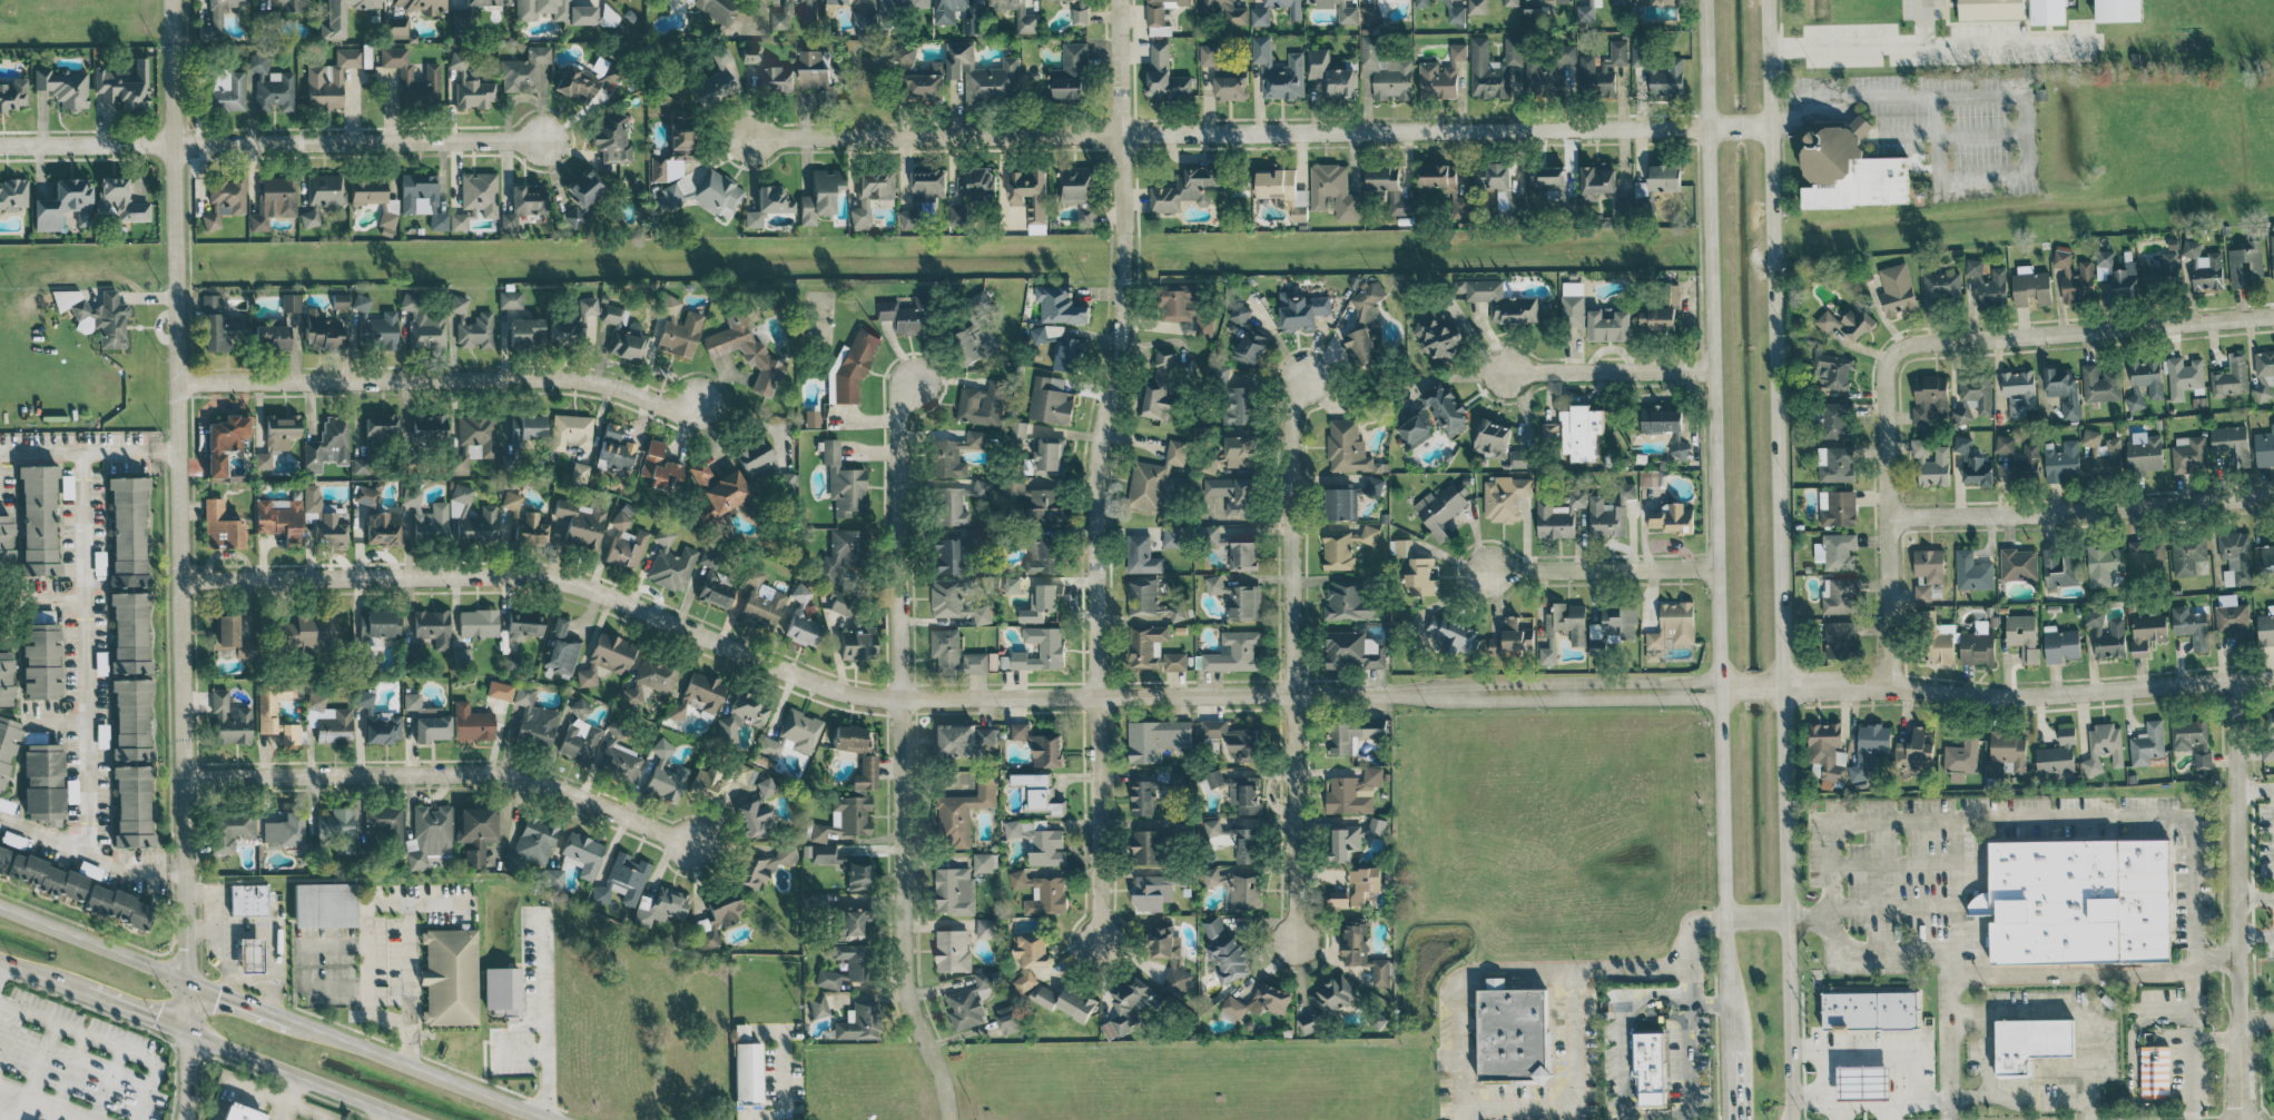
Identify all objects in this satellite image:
building: (838, 1)
building: (1618, 1)
building: (488, 2)
building: (1421, 2)
building: (1510, 2)
building: (1657, 2)
building: (422, 4)
building: (904, 4)
building: (289, 6)
building: (1477, 6)
building: (1540, 8)
building: (1990, 9)
building: (715, 10)
building: (1160, 10)
building: (1224, 10)
building: (1339, 10)
building: (2118, 10)
building: (557, 11)
building: (1079, 11)
building: (1586, 11)
building: (2047, 11)
building: (793, 12)
building: (1454, 12)
building: (1260, 13)
building: (1371, 13)
building: (1021, 16)
building: (341, 17)
building: (944, 17)
building: (215, 20)
building: (863, 22)
road: (1918, 22)
building: (395, 28)
road: (1924, 44)
building: (1208, 54)
building: (903, 57)
building: (1493, 67)
building: (524, 70)
building: (1278, 70)
building: (1547, 70)
building: (1602, 70)
building: (816, 71)
building: (1071, 71)
building: (1385, 71)
building: (767, 72)
building: (434, 73)
building: (1165, 73)
building: (983, 75)
building: (1331, 75)
building: (1441, 75)
building: (331, 79)
building: (716, 79)
building: (575, 82)
building: (927, 82)
building: (270, 83)
building: (470, 85)
building: (124, 86)
building: (63, 87)
building: (1230, 87)
building: (224, 90)
road: (2024, 92)
building: (12, 93)
road: (1260, 131)
road: (1979, 131)
building: (681, 136)
building: (612, 137)
road: (355, 141)
road: (86, 143)
building: (658, 169)
building: (1850, 169)
building: (1547, 176)
building: (1663, 176)
building: (1597, 179)
building: (976, 182)
building: (1498, 182)
building: (1277, 184)
building: (1188, 188)
building: (1389, 188)
building: (1079, 189)
building: (1333, 190)
building: (1451, 190)
building: (703, 192)
building: (12, 194)
building: (820, 195)
building: (870, 195)
building: (322, 196)
building: (581, 196)
building: (1031, 196)
building: (924, 197)
building: (374, 198)
building: (224, 199)
building: (422, 199)
building: (475, 199)
building: (120, 200)
building: (273, 201)
building: (62, 205)
building: (523, 205)
building: (768, 205)
building: (957, 212)
building: (2272, 255)
building: (2245, 262)
building: (2204, 266)
building: (2162, 270)
building: (2115, 275)
building: (2074, 276)
building: (1988, 284)
building: (2030, 285)
building: (1939, 288)
building: (1897, 289)
building: (510, 299)
building: (339, 301)
building: (1502, 301)
building: (291, 303)
building: (361, 303)
building: (1573, 303)
building: (1060, 304)
building: (670, 305)
building: (1184, 307)
building: (1301, 310)
building: (1662, 311)
building: (1239, 313)
building: (96, 315)
building: (908, 315)
building: (1848, 321)
building: (424, 324)
building: (573, 324)
building: (1365, 324)
building: (1608, 324)
building: (472, 325)
building: (222, 326)
building: (973, 328)
building: (321, 330)
building: (381, 330)
road: (2080, 331)
building: (525, 333)
building: (681, 334)
building: (1037, 334)
building: (623, 335)
building: (1438, 335)
building: (273, 336)
building: (1250, 347)
building: (746, 351)
building: (1069, 353)
building: (850, 367)
building: (1832, 370)
road: (1609, 374)
building: (2264, 374)
building: (2184, 376)
building: (2231, 376)
road: (437, 377)
building: (1162, 383)
building: (2099, 383)
building: (2144, 383)
building: (2063, 389)
building: (2019, 391)
building: (1976, 394)
building: (1930, 398)
building: (1050, 399)
building: (982, 404)
building: (1240, 404)
building: (1446, 407)
building: (1962, 415)
building: (810, 418)
building: (1837, 419)
building: (1665, 425)
building: (528, 426)
building: (1417, 427)
building: (429, 429)
building: (1018, 429)
building: (571, 430)
building: (1549, 430)
building: (1581, 432)
building: (277, 436)
building: (1492, 437)
building: (474, 440)
building: (224, 442)
building: (2231, 442)
building: (1962, 444)
building: (327, 446)
building: (1240, 446)
building: (2264, 447)
building: (368, 448)
road: (87, 450)
building: (2103, 452)
building: (2144, 453)
building: (2189, 453)
building: (953, 454)
building: (1050, 455)
building: (2031, 455)
building: (1519, 458)
building: (2061, 460)
building: (1834, 464)
building: (1930, 464)
building: (660, 467)
building: (1978, 469)
road: (1093, 470)
building: (580, 472)
building: (1648, 477)
building: (1153, 478)
building: (844, 480)
building: (1015, 486)
building: (718, 490)
building: (1231, 493)
building: (366, 495)
building: (1505, 497)
building: (957, 502)
building: (1339, 503)
building: (1044, 505)
building: (1838, 507)
road: (2080, 512)
road: (175, 515)
building: (426, 515)
building: (1558, 515)
building: (278, 518)
building: (473, 518)
building: (1605, 518)
building: (1672, 518)
building: (38, 519)
building: (322, 519)
building: (524, 521)
road: (1887, 521)
building: (581, 523)
road: (1717, 523)
building: (222, 526)
building: (382, 528)
building: (128, 532)
building: (1367, 534)
building: (1171, 536)
building: (6, 541)
building: (626, 543)
building: (1232, 546)
building: (1404, 547)
building: (1337, 549)
building: (844, 551)
building: (1837, 551)
building: (1044, 554)
building: (1141, 554)
building: (2146, 554)
building: (2187, 554)
building: (2266, 554)
building: (947, 556)
building: (2236, 557)
road: (1782, 559)
building: (671, 562)
building: (2018, 563)
building: (2104, 564)
building: (2061, 567)
building: (1928, 571)
building: (1972, 571)
road: (1604, 572)
building: (1420, 577)
building: (713, 578)
building: (1012, 585)
building: (1840, 595)
building: (1142, 596)
building: (1238, 597)
building: (956, 599)
building: (1348, 599)
building: (761, 601)
building: (1041, 602)
building: (839, 603)
building: (1175, 612)
building: (2094, 616)
building: (2232, 617)
building: (803, 618)
building: (382, 623)
building: (478, 623)
building: (523, 625)
building: (1673, 625)
building: (2191, 625)
building: (2266, 626)
building: (1564, 627)
building: (2147, 632)
building: (129, 633)
building: (306, 634)
building: (427, 634)
building: (1449, 634)
building: (2022, 635)
building: (1513, 637)
building: (230, 638)
building: (1838, 638)
building: (1938, 638)
building: (2110, 640)
building: (857, 644)
building: (2060, 644)
building: (560, 647)
building: (946, 648)
building: (1040, 648)
building: (1152, 650)
building: (1353, 650)
road: (83, 652)
building: (1234, 652)
building: (1653, 655)
building: (462, 656)
building: (606, 657)
road: (1287, 657)
building: (41, 661)
building: (510, 661)
building: (976, 662)
building: (6, 678)
building: (499, 690)
road: (1214, 693)
building: (698, 694)
building: (266, 710)
building: (741, 716)
building: (427, 718)
building: (533, 718)
building: (229, 720)
building: (327, 720)
building: (377, 721)
building: (472, 722)
building: (1214, 727)
building: (800, 731)
building: (1352, 733)
building: (579, 734)
building: (963, 739)
building: (1155, 739)
building: (2193, 739)
building: (2268, 740)
building: (2147, 743)
building: (7, 744)
building: (1243, 744)
building: (1041, 745)
building: (769, 746)
building: (2104, 746)
building: (1869, 747)
building: (2009, 747)
building: (1828, 750)
building: (1913, 752)
road: (899, 753)
building: (2058, 754)
building: (618, 755)
building: (1961, 757)
building: (131, 763)
building: (868, 764)
road: (445, 770)
building: (665, 774)
building: (1214, 777)
building: (43, 783)
building: (707, 784)
road: (2256, 789)
building: (1353, 791)
building: (1041, 793)
building: (1246, 794)
building: (1143, 796)
building: (963, 806)
building: (756, 811)
road: (2011, 814)
building: (383, 821)
building: (1377, 825)
building: (233, 829)
building: (337, 829)
building: (284, 831)
building: (475, 833)
building: (429, 835)
building: (1217, 840)
building: (1038, 841)
building: (1343, 841)
building: (531, 844)
building: (1146, 845)
road: (90, 854)
building: (582, 854)
building: (2, 858)
building: (983, 861)
road: (1919, 863)
building: (762, 865)
building: (845, 865)
building: (47, 876)
building: (554, 878)
building: (621, 880)
building: (1364, 883)
building: (1238, 885)
building: (954, 890)
building: (1151, 892)
road: (198, 893)
building: (248, 899)
road: (2238, 900)
building: (2078, 901)
building: (1339, 902)
road: (419, 903)
building: (324, 904)
building: (117, 905)
building: (660, 906)
building: (718, 916)
road: (1759, 919)
building: (850, 924)
building: (985, 928)
road: (227, 932)
road: (2256, 936)
building: (1163, 941)
road: (92, 943)
road: (328, 943)
building: (953, 950)
building: (1224, 951)
building: (1362, 951)
building: (252, 954)
building: (1031, 957)
road: (217, 958)
road: (272, 959)
building: (857, 964)
road: (407, 965)
road: (1538, 965)
road: (1950, 973)
road: (2097, 974)
building: (449, 975)
road: (43, 977)
road: (366, 979)
building: (1175, 979)
traffic signals: (185, 980)
road: (329, 985)
road: (1687, 985)
road: (227, 987)
building: (502, 991)
building: (1333, 994)
building: (1260, 1000)
road: (1661, 1000)
road: (1707, 1000)
road: (236, 1001)
building: (1067, 1001)
building: (969, 1002)
building: (817, 1005)
building: (1129, 1005)
building: (1870, 1010)
road: (137, 1011)
road: (544, 1011)
road: (1656, 1012)
road: (2168, 1013)
building: (1007, 1019)
road: (2084, 1019)
road: (2256, 1019)
building: (859, 1021)
building: (1310, 1021)
road: (1853, 1028)
traffic signals: (186, 1030)
building: (1513, 1033)
road: (2216, 1037)
road: (2193, 1041)
road: (105, 1042)
building: (2026, 1043)
road: (407, 1045)
road: (1809, 1049)
road: (519, 1051)
road: (1986, 1052)
road: (41, 1061)
road: (1686, 1063)
road: (1621, 1067)
building: (1648, 1067)
road: (2134, 1067)
road: (422, 1070)
road: (68, 1071)
building: (2153, 1071)
building: (747, 1072)
road: (185, 1074)
road: (298, 1074)
building: (1863, 1079)
road: (1732, 1083)
road: (106, 1084)
road: (1574, 1091)
road: (6, 1093)
road: (291, 1098)
road: (35, 1101)
road: (277, 1101)
road: (2037, 1102)
building: (240, 1112)
road: (1843, 1112)
road: (377, 1113)
road: (1892, 1113)

